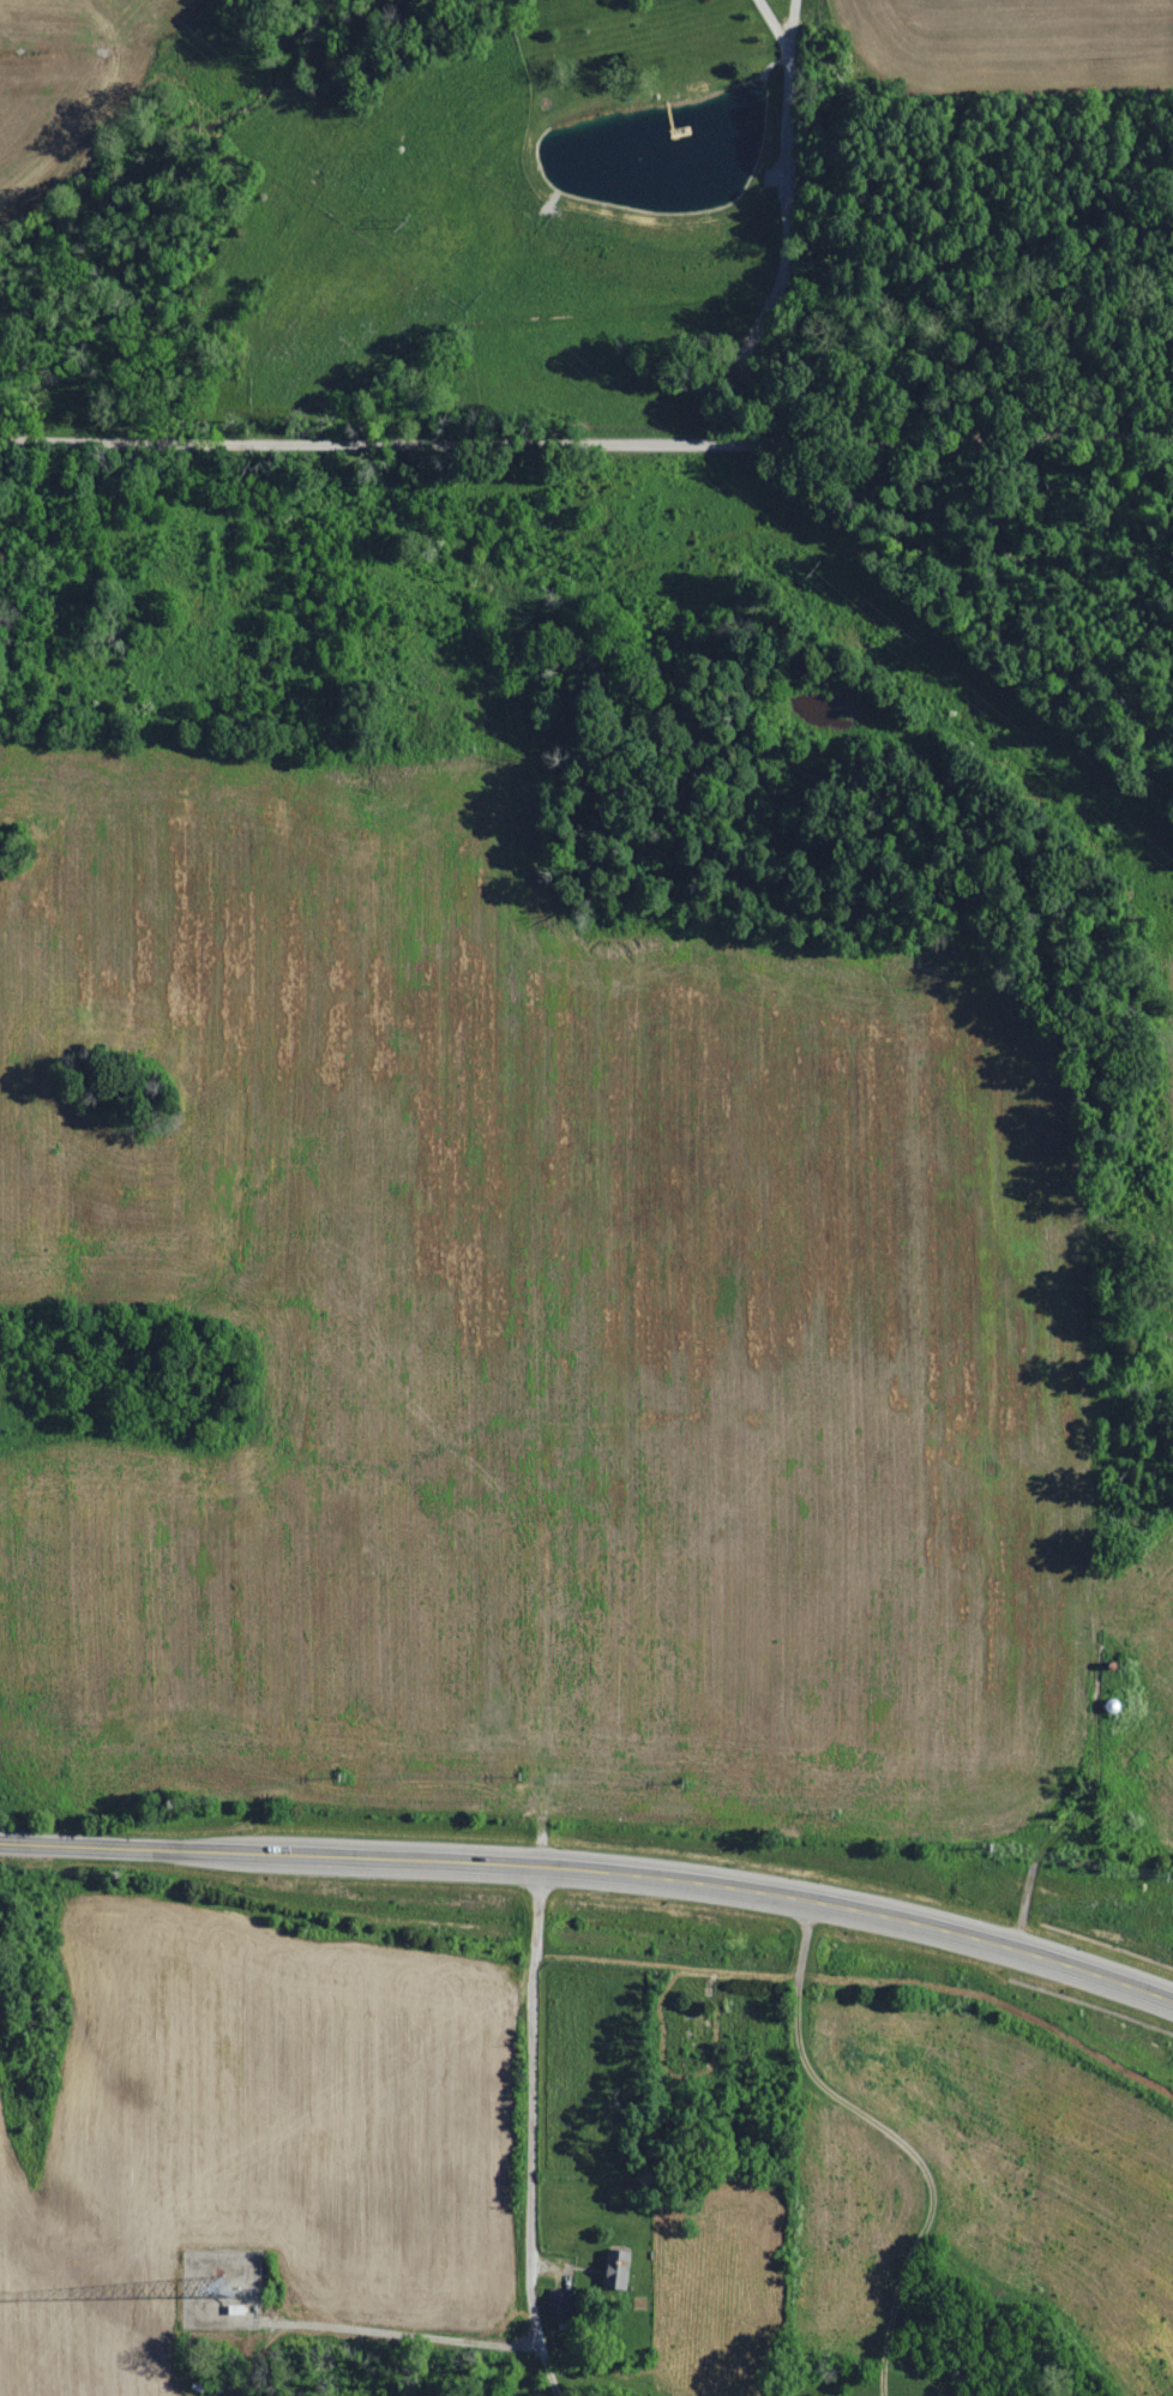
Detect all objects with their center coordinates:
road: (802, 217)
road: (586, 443)
road: (594, 1867)
road: (525, 2132)
road: (896, 2134)
building: (614, 2271)

